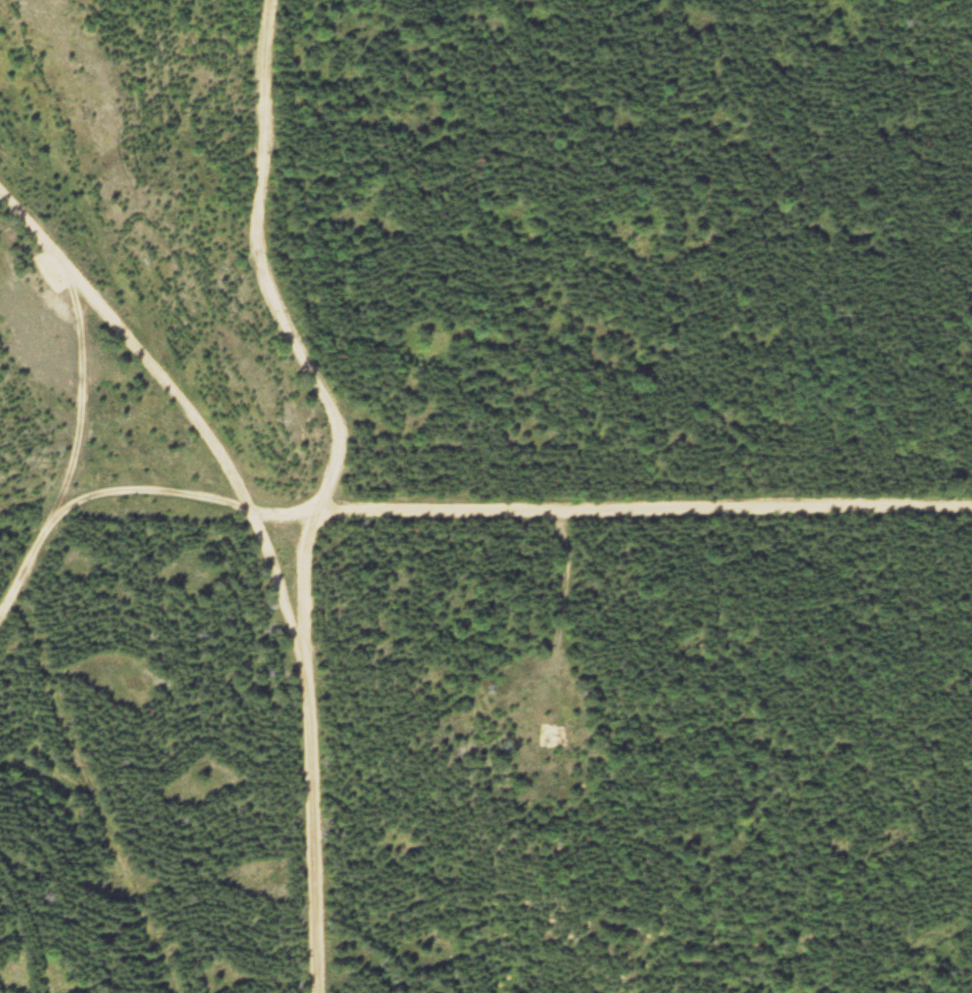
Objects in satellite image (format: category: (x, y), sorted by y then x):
road: (22, 217)
road: (263, 269)
road: (79, 396)
road: (181, 398)
road: (102, 497)
road: (565, 512)
road: (285, 598)
road: (317, 835)

